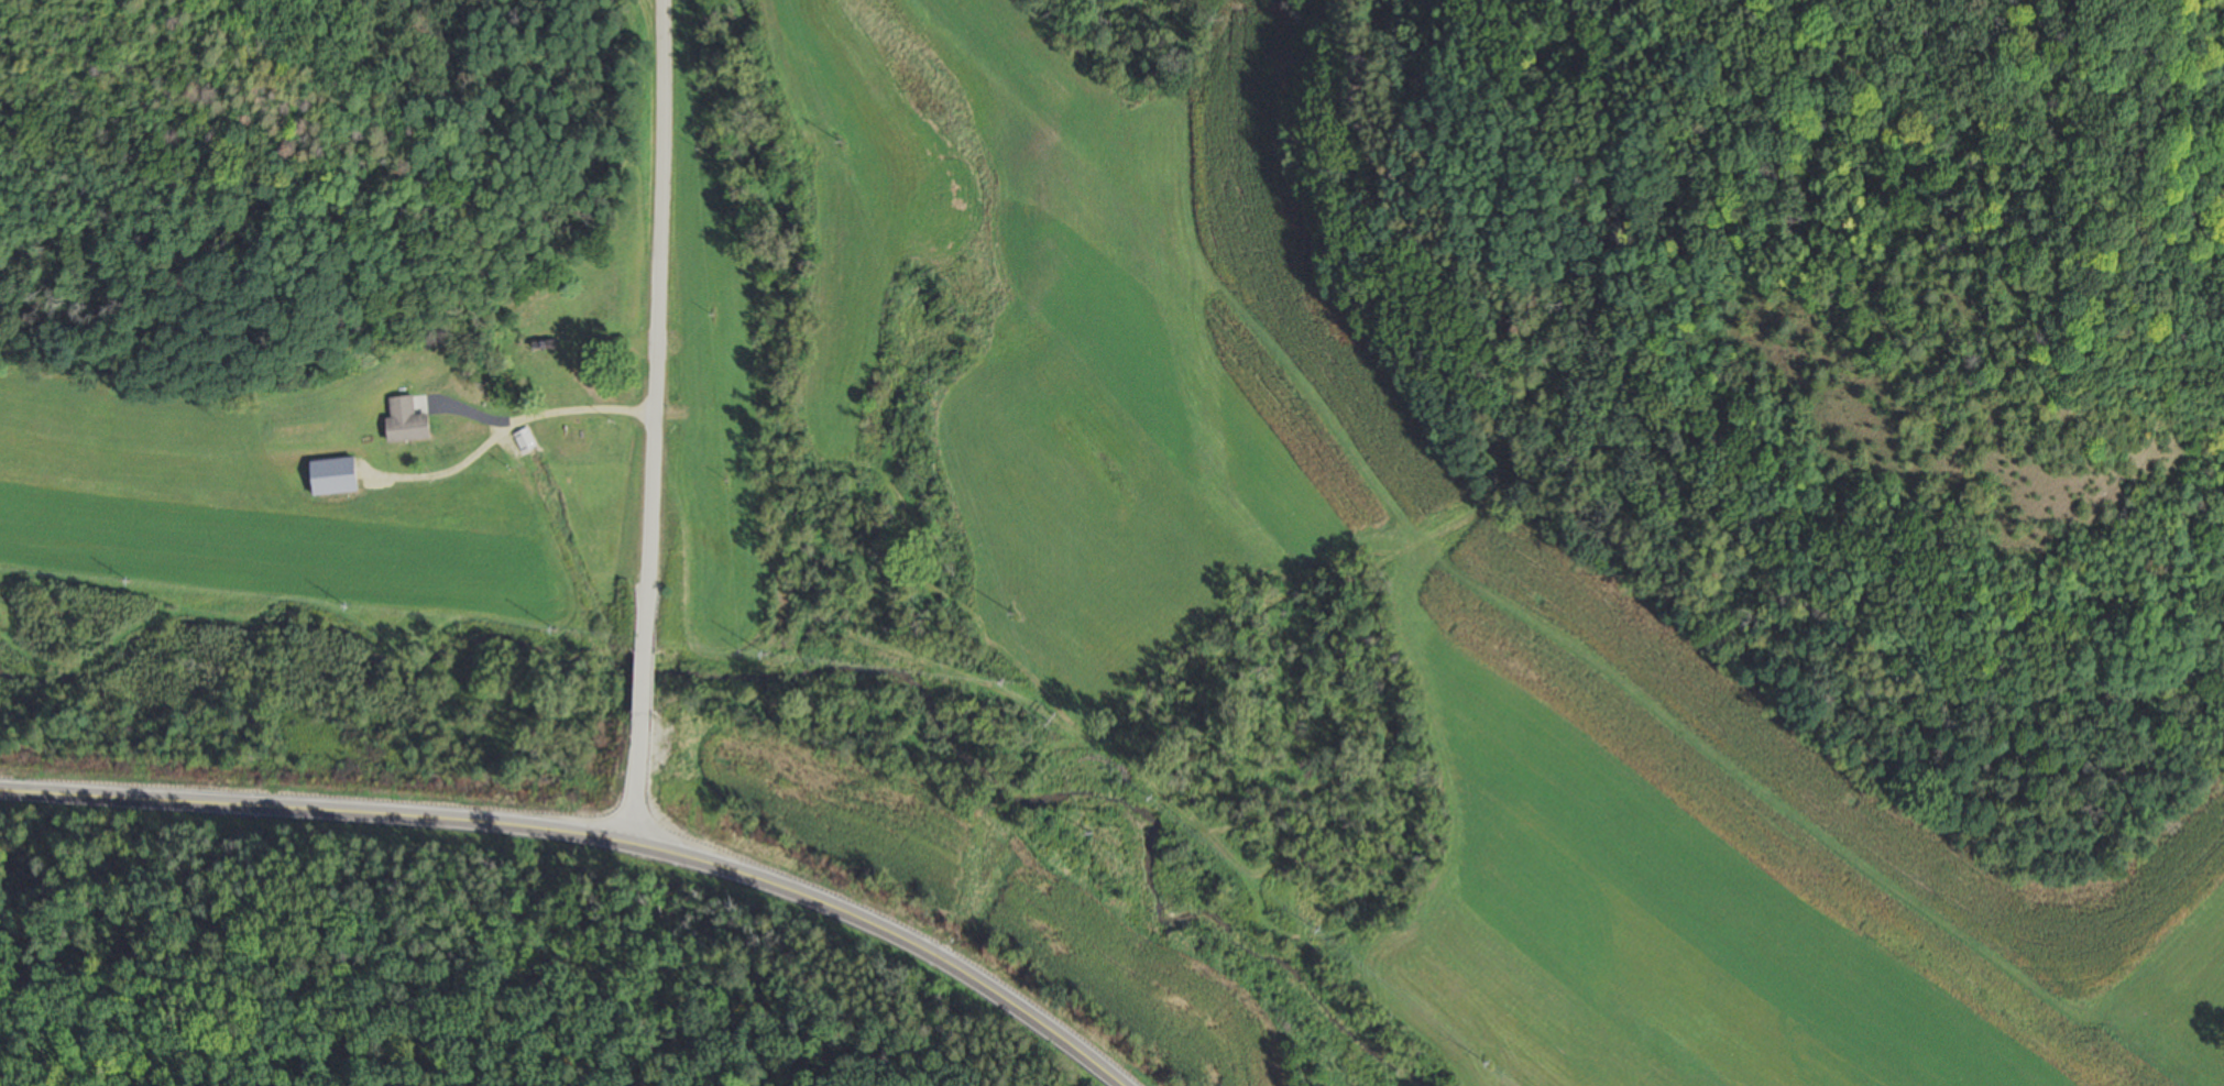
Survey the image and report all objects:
building: (401, 421)
road: (654, 421)
building: (521, 439)
road: (594, 837)

